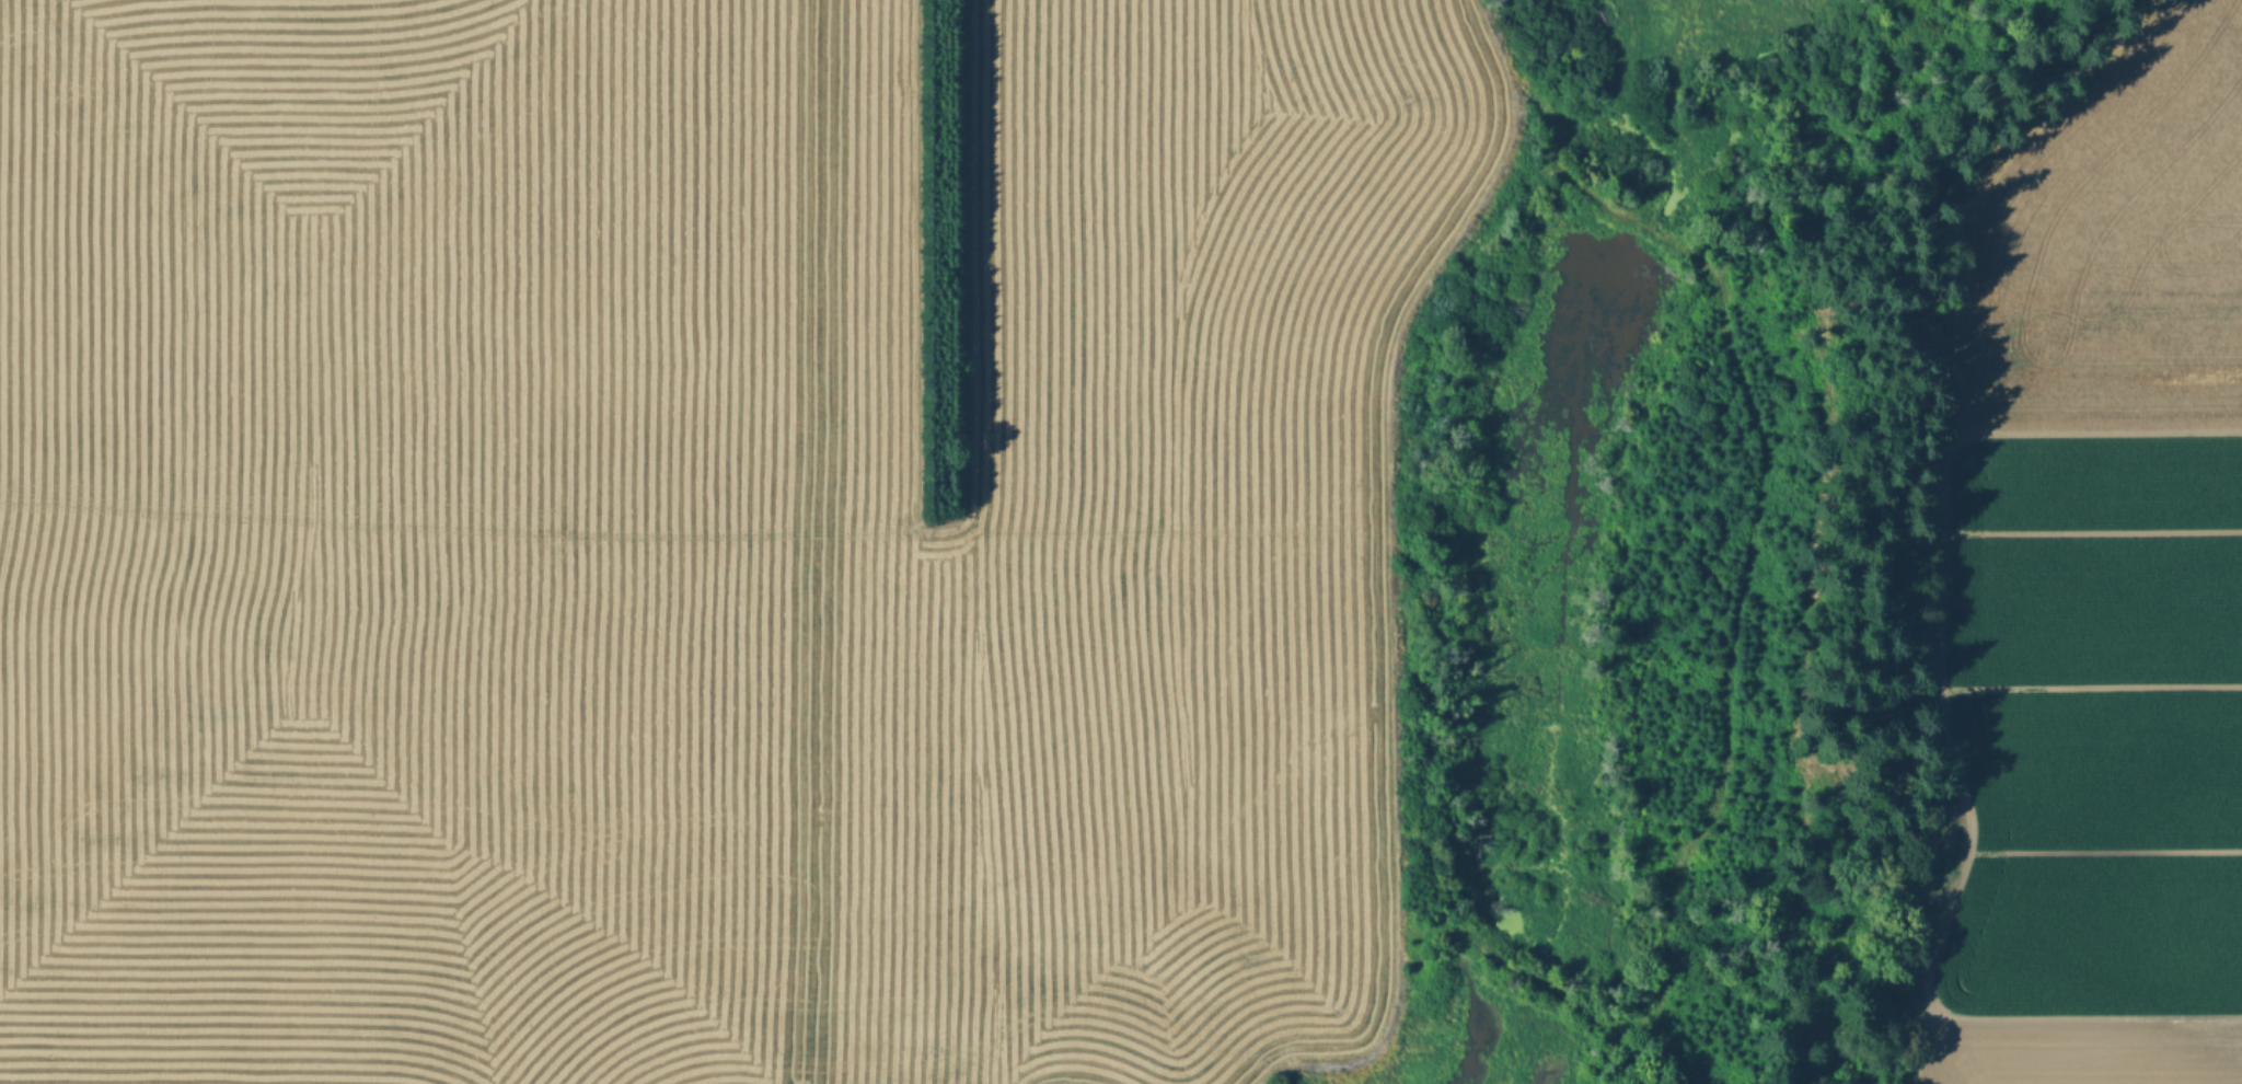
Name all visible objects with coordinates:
crop: (701, 535)

